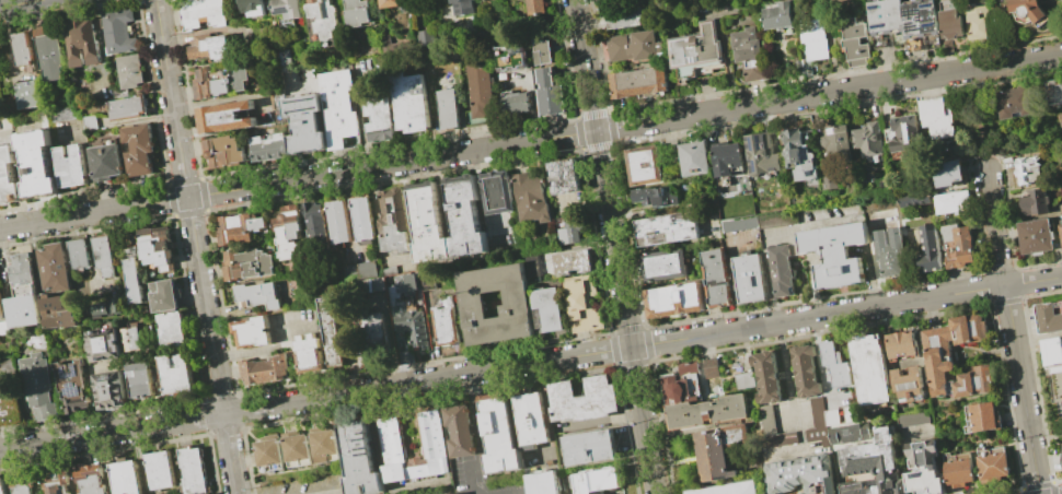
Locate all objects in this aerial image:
road: (21, 3)
building: (392, 3)
rooftop solar panel: (924, 4)
building: (461, 7)
rooftop solar panel: (874, 7)
building: (252, 8)
building: (287, 8)
rooftop solar panel: (282, 9)
building: (533, 9)
rooftop solar panel: (911, 9)
building: (1029, 10)
building: (356, 12)
building: (201, 13)
rooftop solar panel: (912, 13)
building: (900, 15)
building: (778, 16)
building: (322, 17)
building: (623, 19)
rooftop solar panel: (910, 22)
building: (976, 22)
rooftop solar panel: (928, 24)
building: (950, 24)
rooftop solar panel: (879, 25)
rooftop solar panel: (912, 25)
rooftop solar panel: (913, 28)
building: (118, 31)
building: (423, 38)
road: (1032, 39)
building: (813, 40)
building: (81, 42)
building: (853, 42)
building: (391, 45)
building: (630, 46)
building: (209, 47)
building: (695, 47)
building: (22, 48)
road: (978, 49)
building: (540, 51)
building: (47, 52)
building: (748, 52)
building: (507, 57)
rooftop solar panel: (697, 58)
rooftop solar panel: (689, 59)
road: (967, 61)
building: (128, 70)
building: (238, 77)
building: (637, 82)
building: (208, 84)
building: (477, 85)
building: (1054, 91)
building: (549, 93)
building: (26, 94)
building: (1014, 101)
building: (406, 103)
building: (511, 103)
building: (128, 107)
building: (336, 109)
building: (445, 109)
building: (62, 113)
building: (224, 117)
building: (936, 117)
building: (1059, 117)
building: (376, 118)
building: (299, 119)
building: (89, 122)
building: (902, 136)
rooftop solar panel: (760, 139)
building: (867, 139)
building: (836, 140)
road: (531, 141)
rooftop solar panel: (752, 144)
building: (267, 148)
building: (138, 149)
building: (223, 151)
building: (798, 153)
building: (761, 154)
building: (694, 157)
building: (726, 157)
building: (104, 162)
building: (35, 163)
building: (69, 165)
building: (644, 166)
rooftop solar panel: (757, 166)
building: (1027, 169)
rooftop solar panel: (810, 172)
building: (947, 173)
building: (8, 176)
building: (563, 177)
building: (495, 192)
building: (655, 196)
building: (529, 197)
building: (913, 199)
building: (950, 202)
building: (1035, 202)
building: (463, 216)
building: (361, 217)
building: (392, 220)
building: (337, 221)
building: (313, 222)
building: (426, 223)
building: (238, 228)
building: (666, 228)
building: (1061, 231)
building: (287, 232)
building: (567, 232)
rooftop solar panel: (831, 232)
building: (1036, 235)
road: (196, 246)
building: (956, 246)
building: (155, 247)
road: (614, 247)
building: (927, 249)
building: (128, 250)
building: (834, 251)
building: (888, 251)
building: (78, 252)
building: (104, 256)
building: (573, 261)
building: (246, 263)
building: (549, 263)
building: (662, 264)
building: (54, 268)
building: (21, 270)
building: (358, 270)
building: (778, 270)
building: (716, 279)
building: (749, 279)
road: (770, 279)
building: (132, 280)
building: (405, 282)
building: (376, 284)
building: (257, 294)
building: (164, 296)
building: (674, 301)
building: (582, 303)
building: (116, 304)
building: (515, 305)
building: (23, 307)
building: (102, 309)
building: (547, 310)
building: (57, 311)
road: (846, 311)
building: (1, 313)
building: (1051, 317)
building: (445, 321)
building: (3, 327)
building: (172, 329)
building: (413, 329)
building: (251, 332)
building: (330, 332)
building: (373, 332)
road: (1012, 332)
building: (131, 339)
building: (102, 344)
building: (901, 345)
road: (267, 349)
building: (938, 350)
building: (1052, 352)
building: (309, 354)
building: (834, 364)
building: (7, 365)
building: (709, 368)
building: (870, 368)
building: (264, 369)
building: (804, 370)
rooftop solar panel: (69, 374)
building: (175, 374)
building: (765, 377)
building: (139, 380)
building: (743, 380)
building: (681, 383)
building: (908, 385)
building: (37, 386)
building: (71, 386)
rooftop solar panel: (72, 389)
building: (109, 390)
road: (315, 399)
building: (582, 399)
building: (5, 405)
building: (706, 411)
building: (850, 413)
building: (831, 416)
road: (474, 417)
building: (912, 417)
building: (981, 417)
building: (529, 420)
road: (597, 422)
building: (817, 422)
building: (773, 428)
building: (459, 431)
building: (850, 433)
building: (498, 436)
building: (1061, 444)
building: (323, 445)
building: (434, 445)
building: (589, 447)
building: (295, 448)
building: (716, 450)
building: (268, 452)
building: (357, 459)
building: (873, 466)
building: (993, 466)
building: (923, 468)
building: (159, 470)
building: (191, 471)
road: (469, 471)
building: (958, 471)
building: (801, 474)
building: (123, 478)
building: (88, 480)
building: (596, 482)
building: (54, 483)
building: (543, 483)
building: (21, 485)
building: (1, 486)
parking lot: (310, 486)
building: (727, 489)
road: (506, 492)
road: (336, 493)

